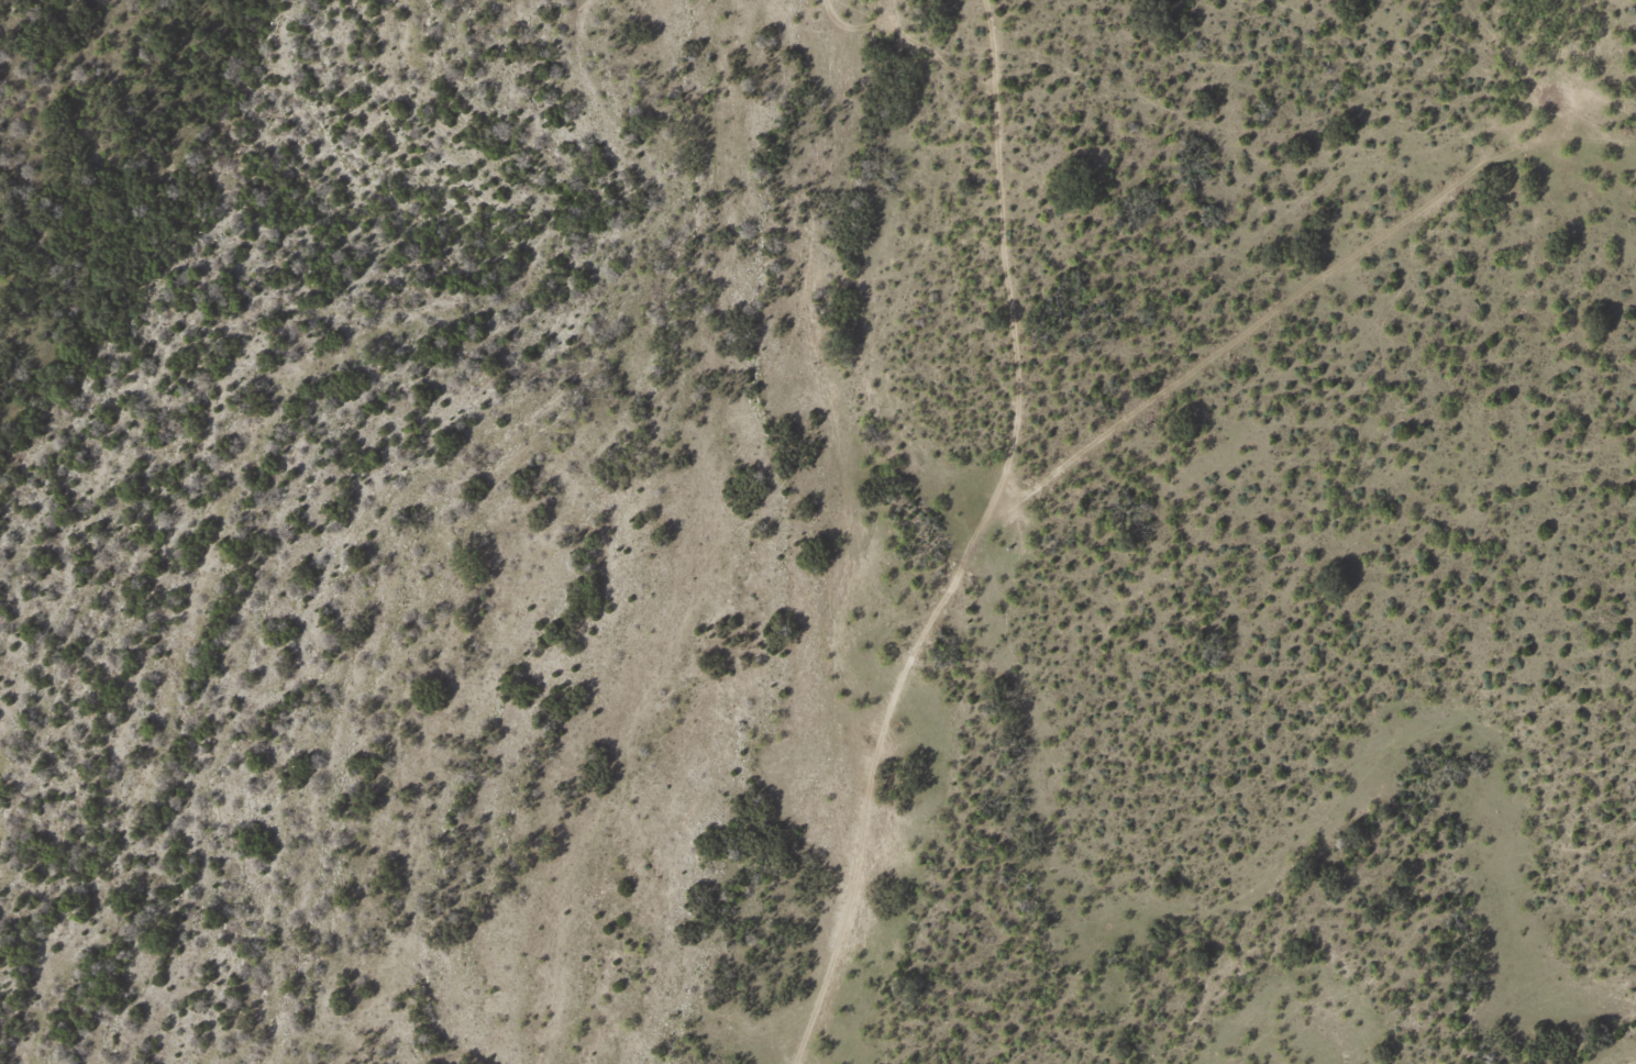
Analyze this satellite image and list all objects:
road: (976, 143)
road: (132, 148)
road: (1471, 209)
road: (981, 384)
road: (908, 575)
road: (1635, 1063)

